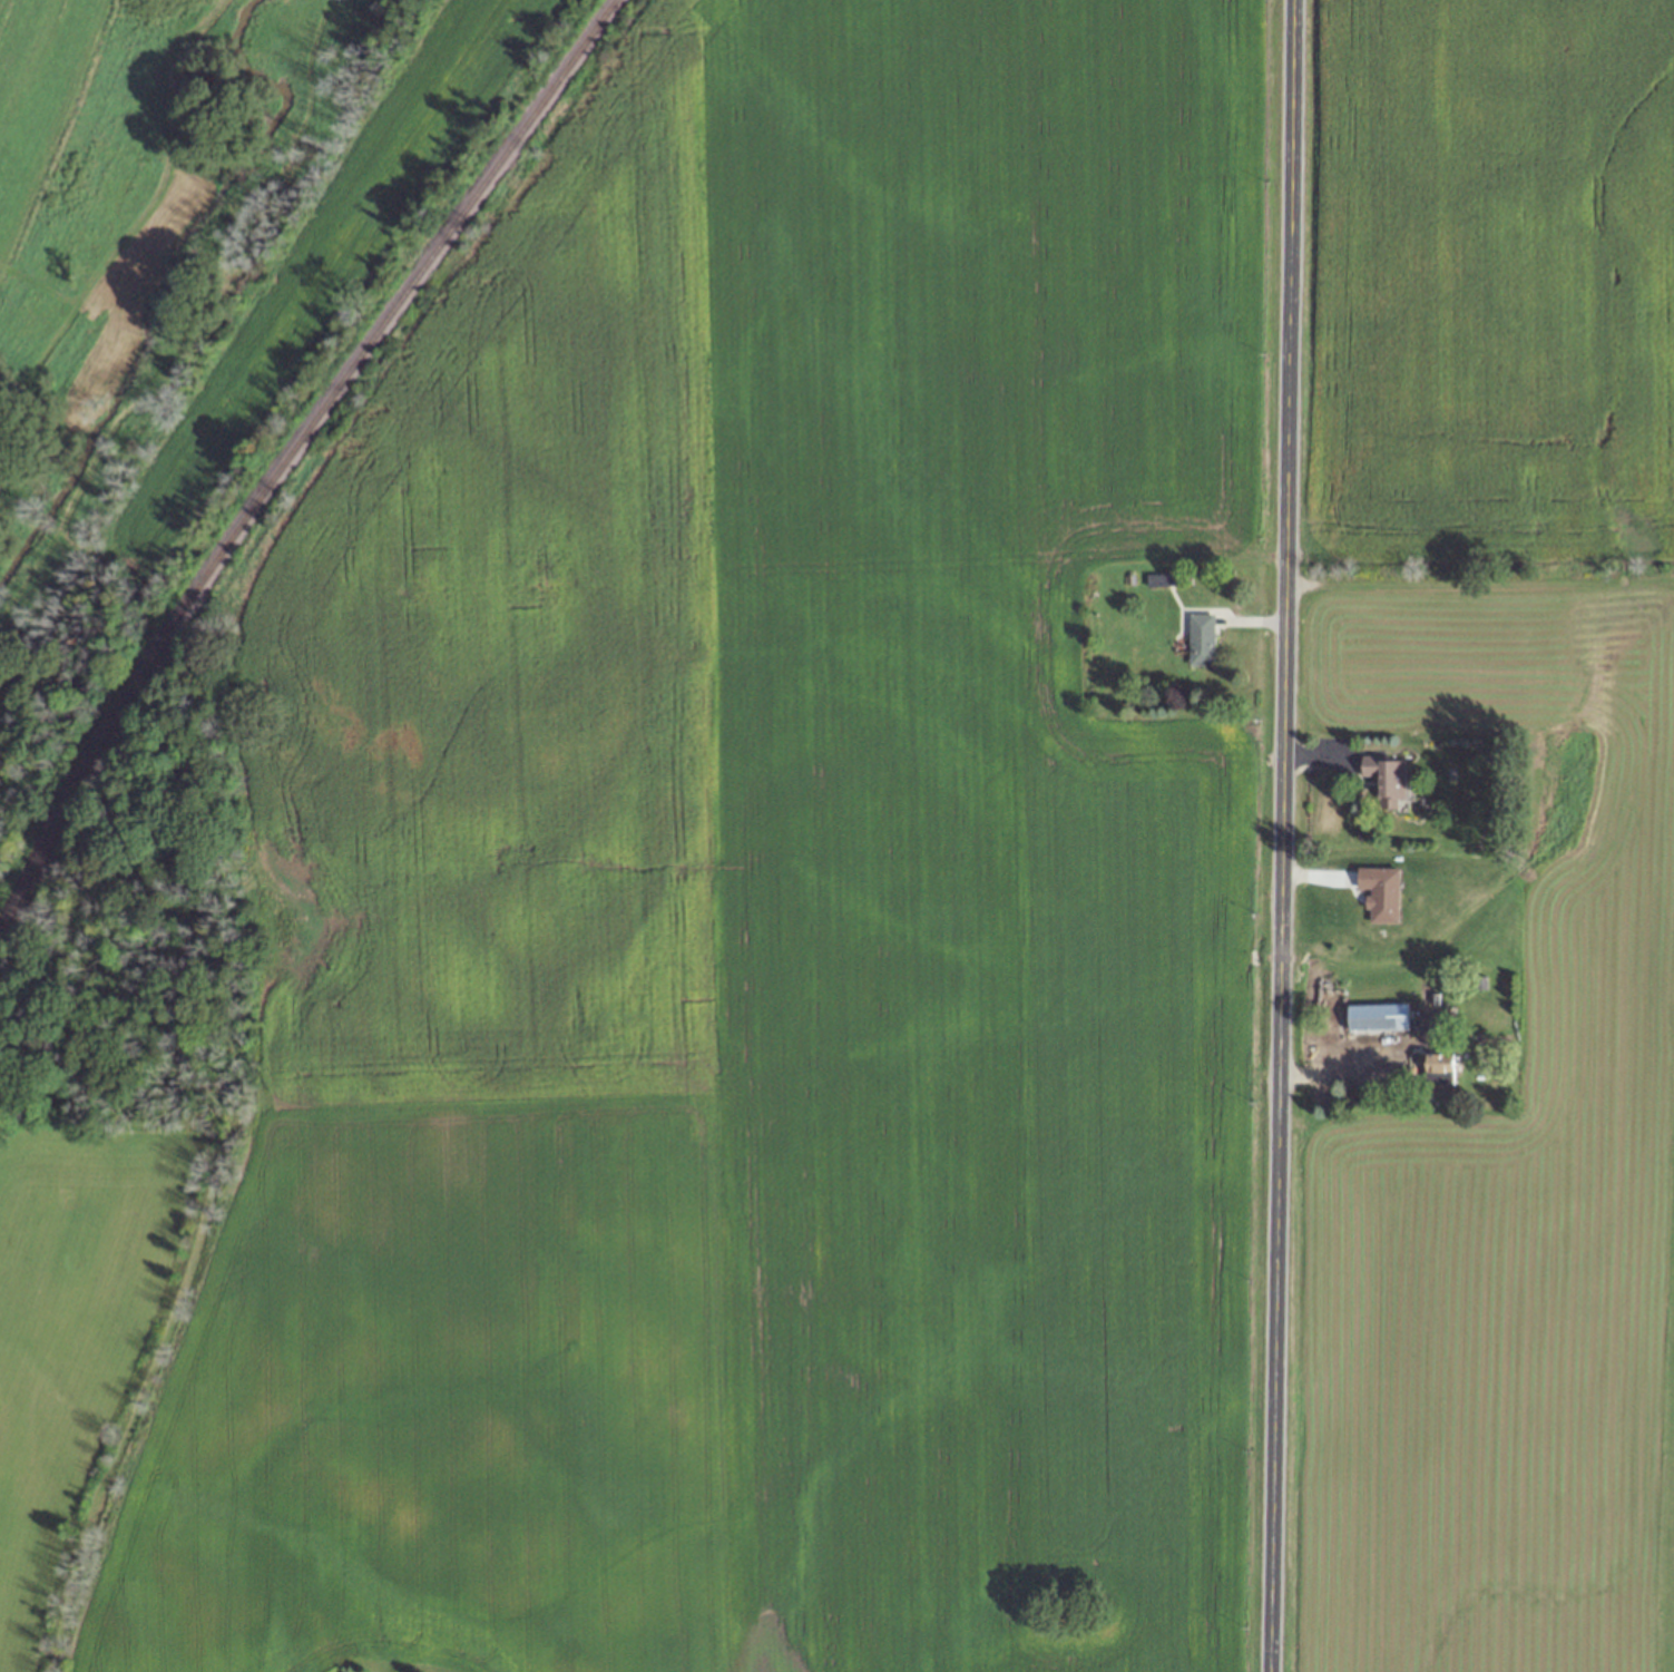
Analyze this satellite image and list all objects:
railway: (285, 458)
building: (1159, 579)
building: (1200, 639)
building: (1386, 779)
road: (1281, 835)
building: (1377, 1016)
building: (1438, 1068)
airport: (1665, 1395)

